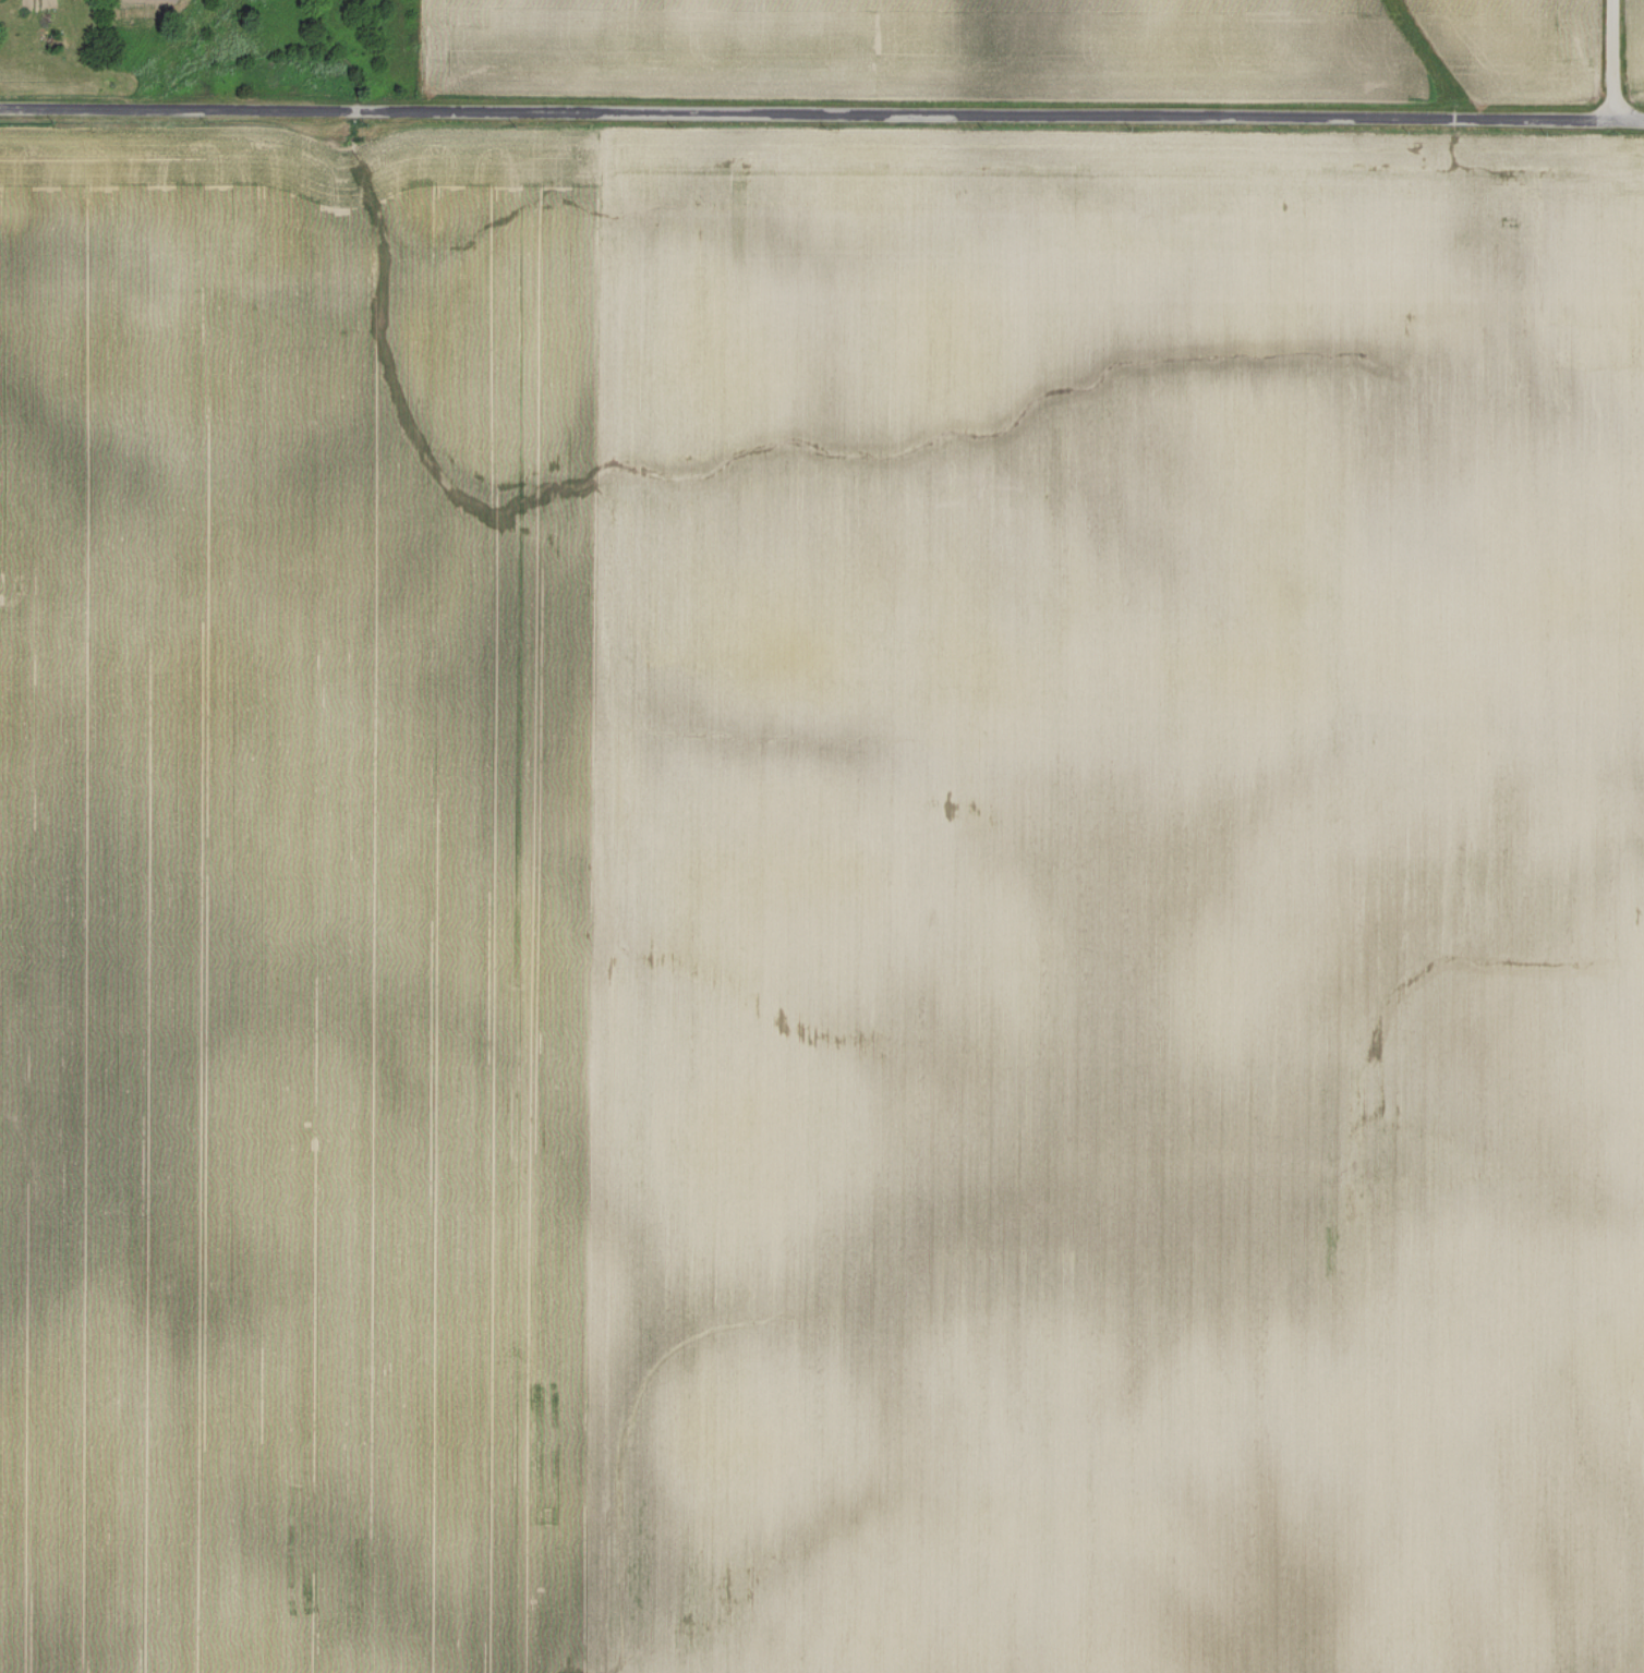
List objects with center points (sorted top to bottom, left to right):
road: (1615, 59)
road: (822, 111)

